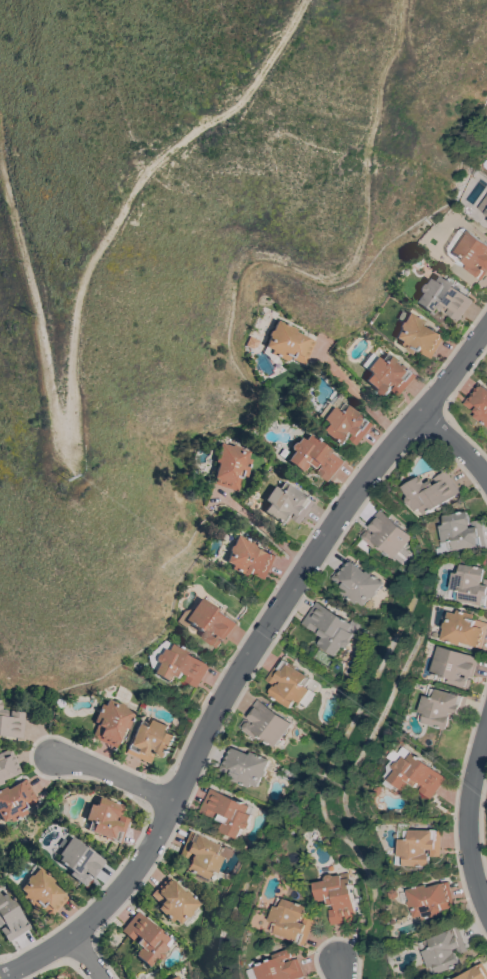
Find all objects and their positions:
park: (17, 65)
building: (485, 211)
building: (486, 220)
building: (467, 252)
building: (442, 297)
building: (418, 336)
building: (289, 344)
building: (386, 374)
road: (361, 397)
building: (478, 402)
building: (345, 425)
road: (458, 442)
building: (315, 457)
building: (232, 467)
building: (429, 492)
building: (287, 504)
road: (264, 527)
building: (461, 531)
building: (384, 533)
building: (250, 558)
building: (356, 582)
building: (469, 584)
building: (207, 621)
building: (329, 626)
building: (463, 628)
road: (247, 662)
building: (176, 664)
building: (453, 665)
building: (288, 684)
building: (441, 707)
building: (112, 722)
building: (264, 723)
building: (11, 724)
building: (149, 741)
building: (7, 764)
building: (243, 766)
building: (412, 772)
road: (117, 776)
building: (0, 782)
building: (15, 801)
building: (225, 812)
building: (106, 820)
road: (470, 820)
building: (419, 846)
building: (202, 855)
building: (80, 861)
building: (42, 892)
building: (393, 894)
building: (336, 896)
building: (429, 899)
building: (174, 901)
building: (10, 918)
building: (290, 920)
building: (146, 939)
building: (442, 949)
road: (88, 958)
building: (278, 967)
road: (338, 970)
building: (473, 973)
building: (175, 977)

